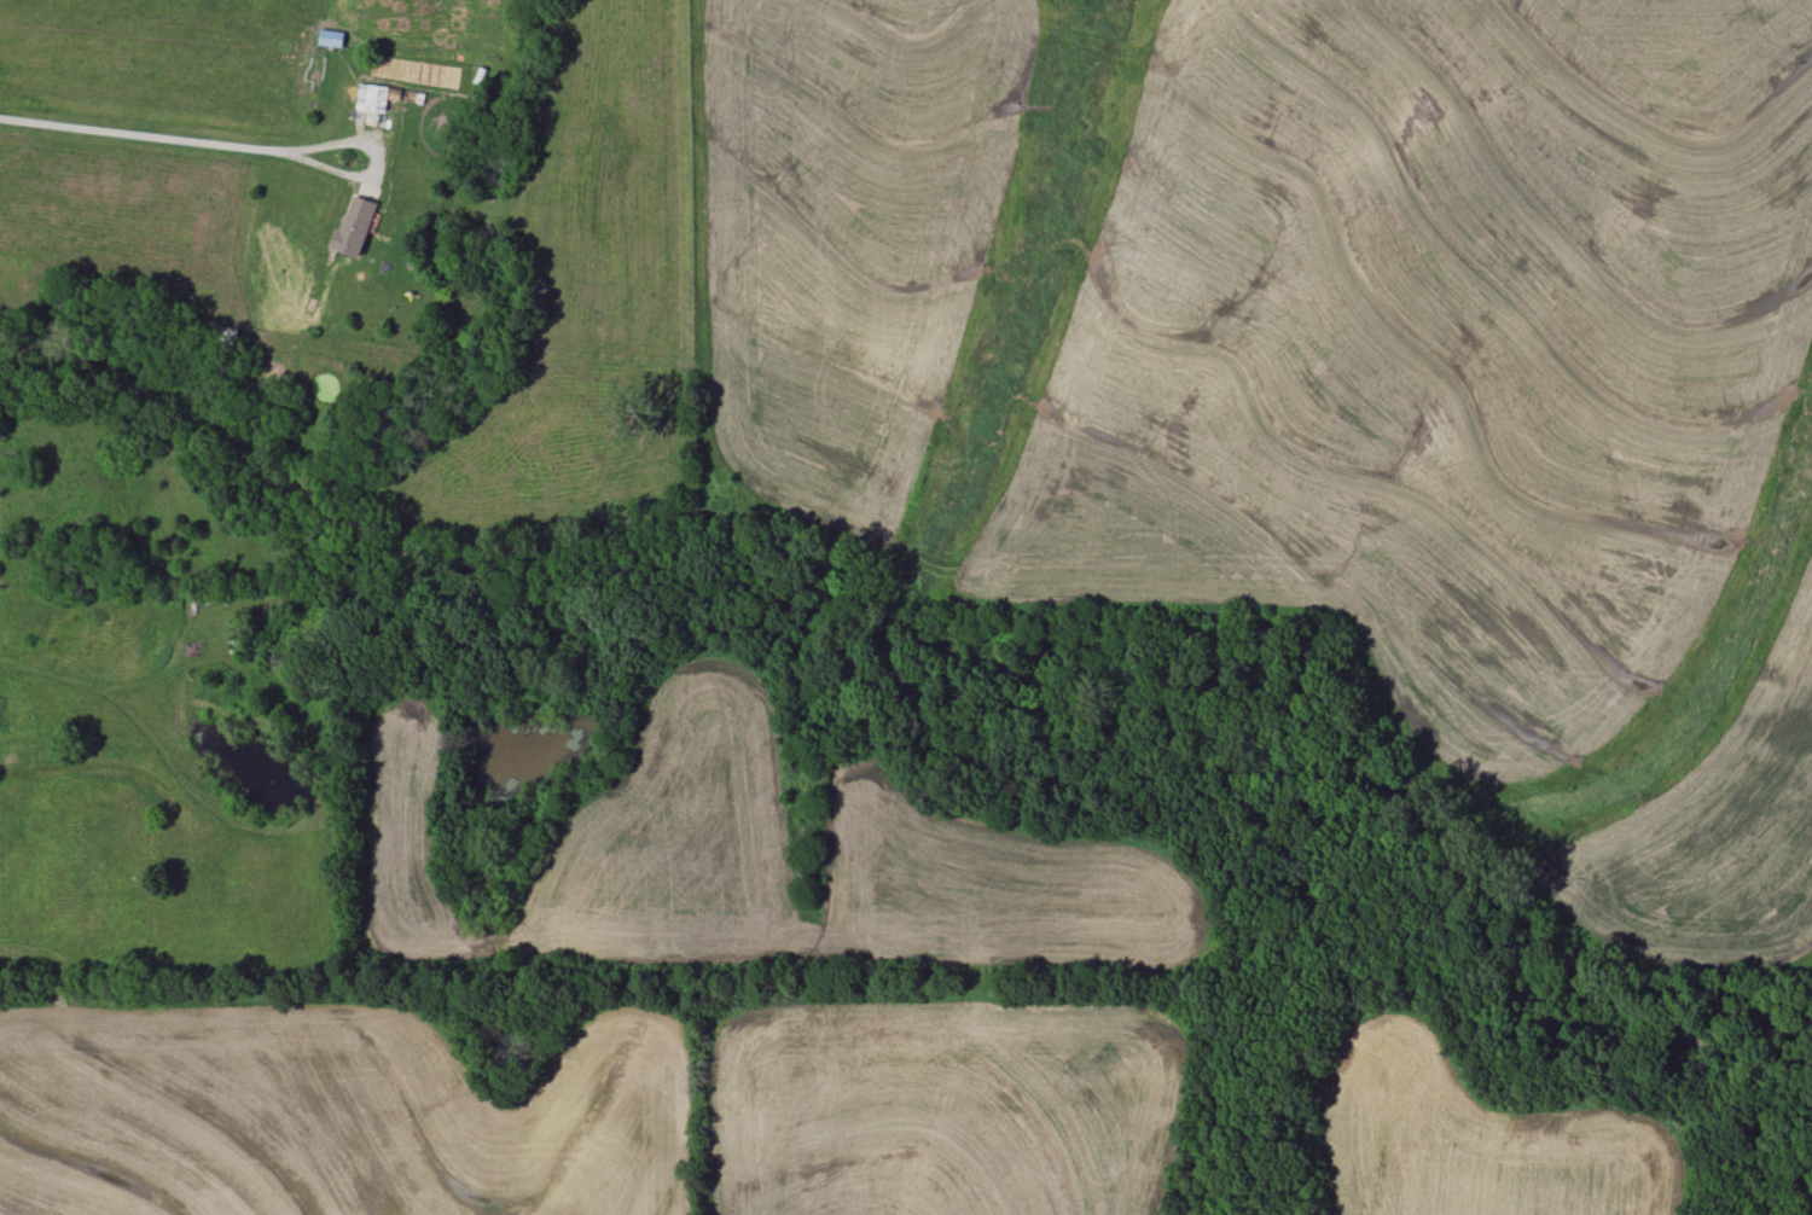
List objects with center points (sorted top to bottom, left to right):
building: (330, 37)
building: (371, 97)
road: (150, 135)
road: (355, 176)
building: (354, 226)

